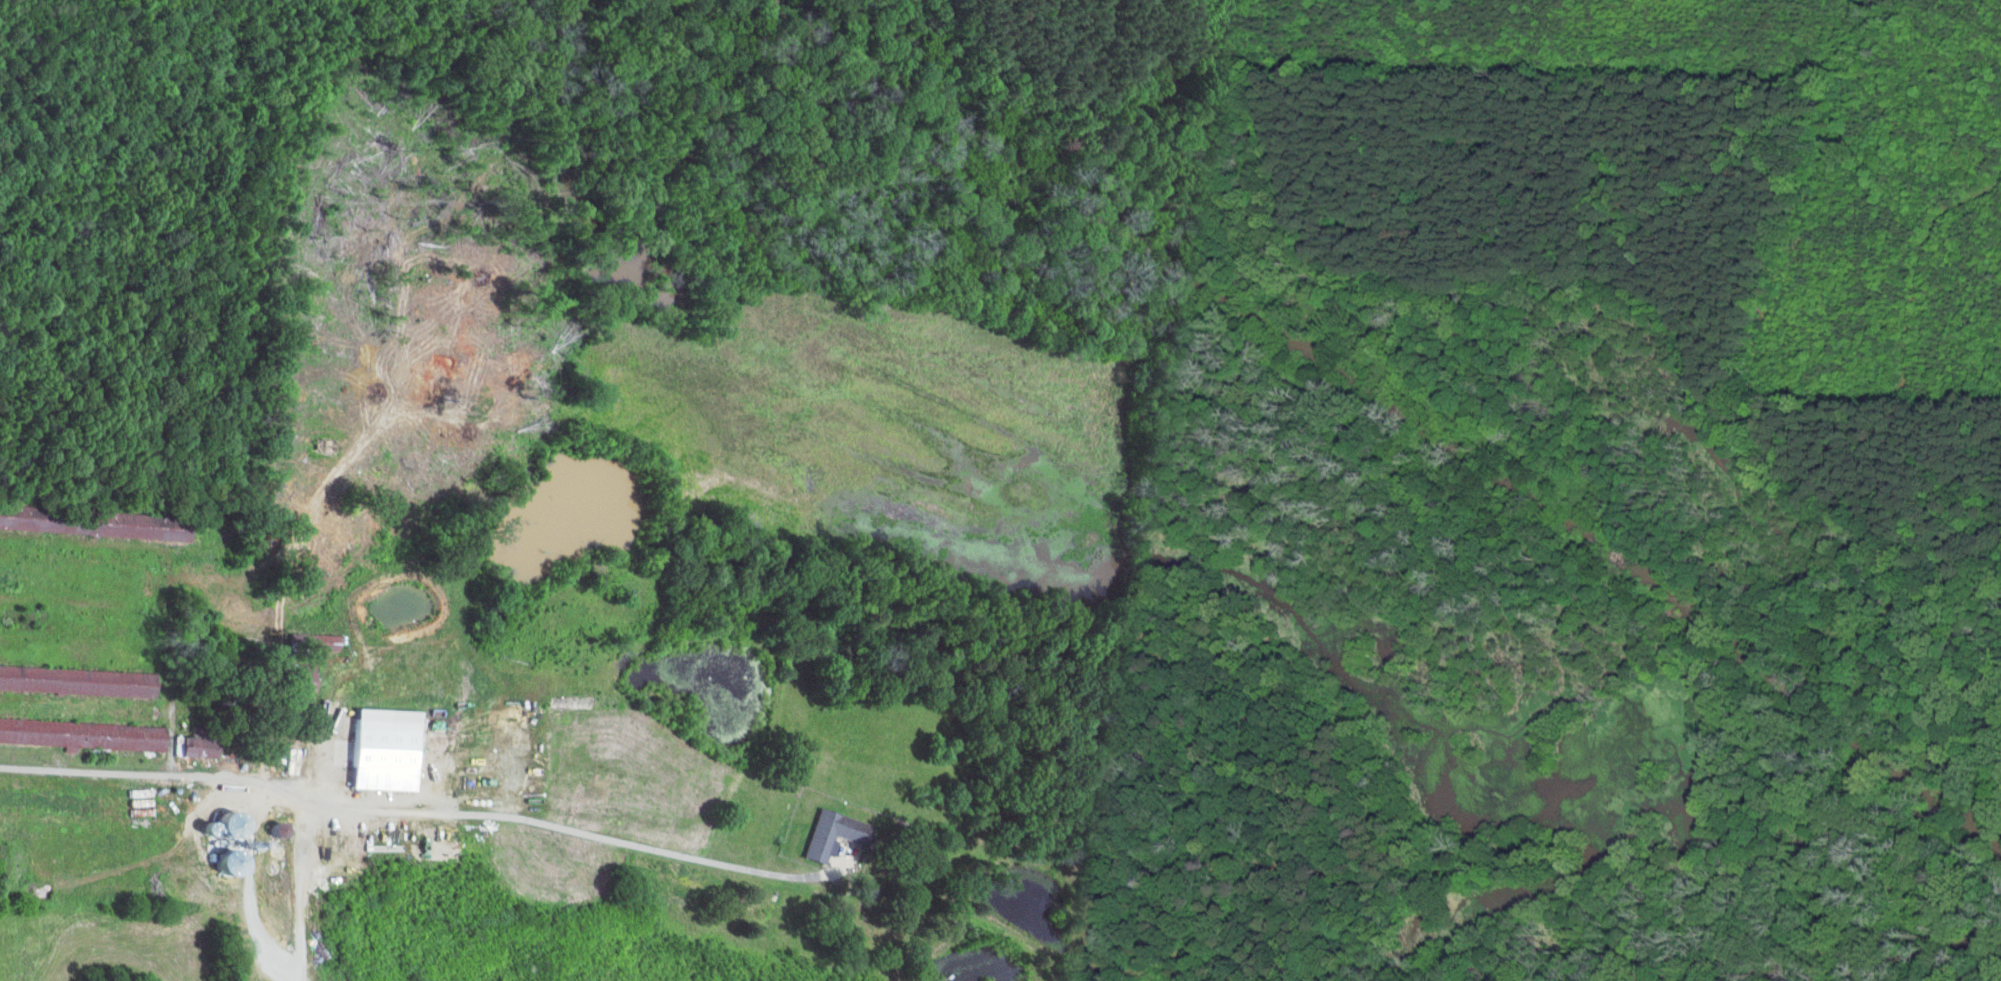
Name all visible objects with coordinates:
building: (315, 641)
building: (298, 674)
building: (75, 680)
building: (81, 734)
building: (195, 745)
building: (378, 748)
road: (121, 772)
road: (549, 824)
building: (829, 832)
road: (301, 891)

